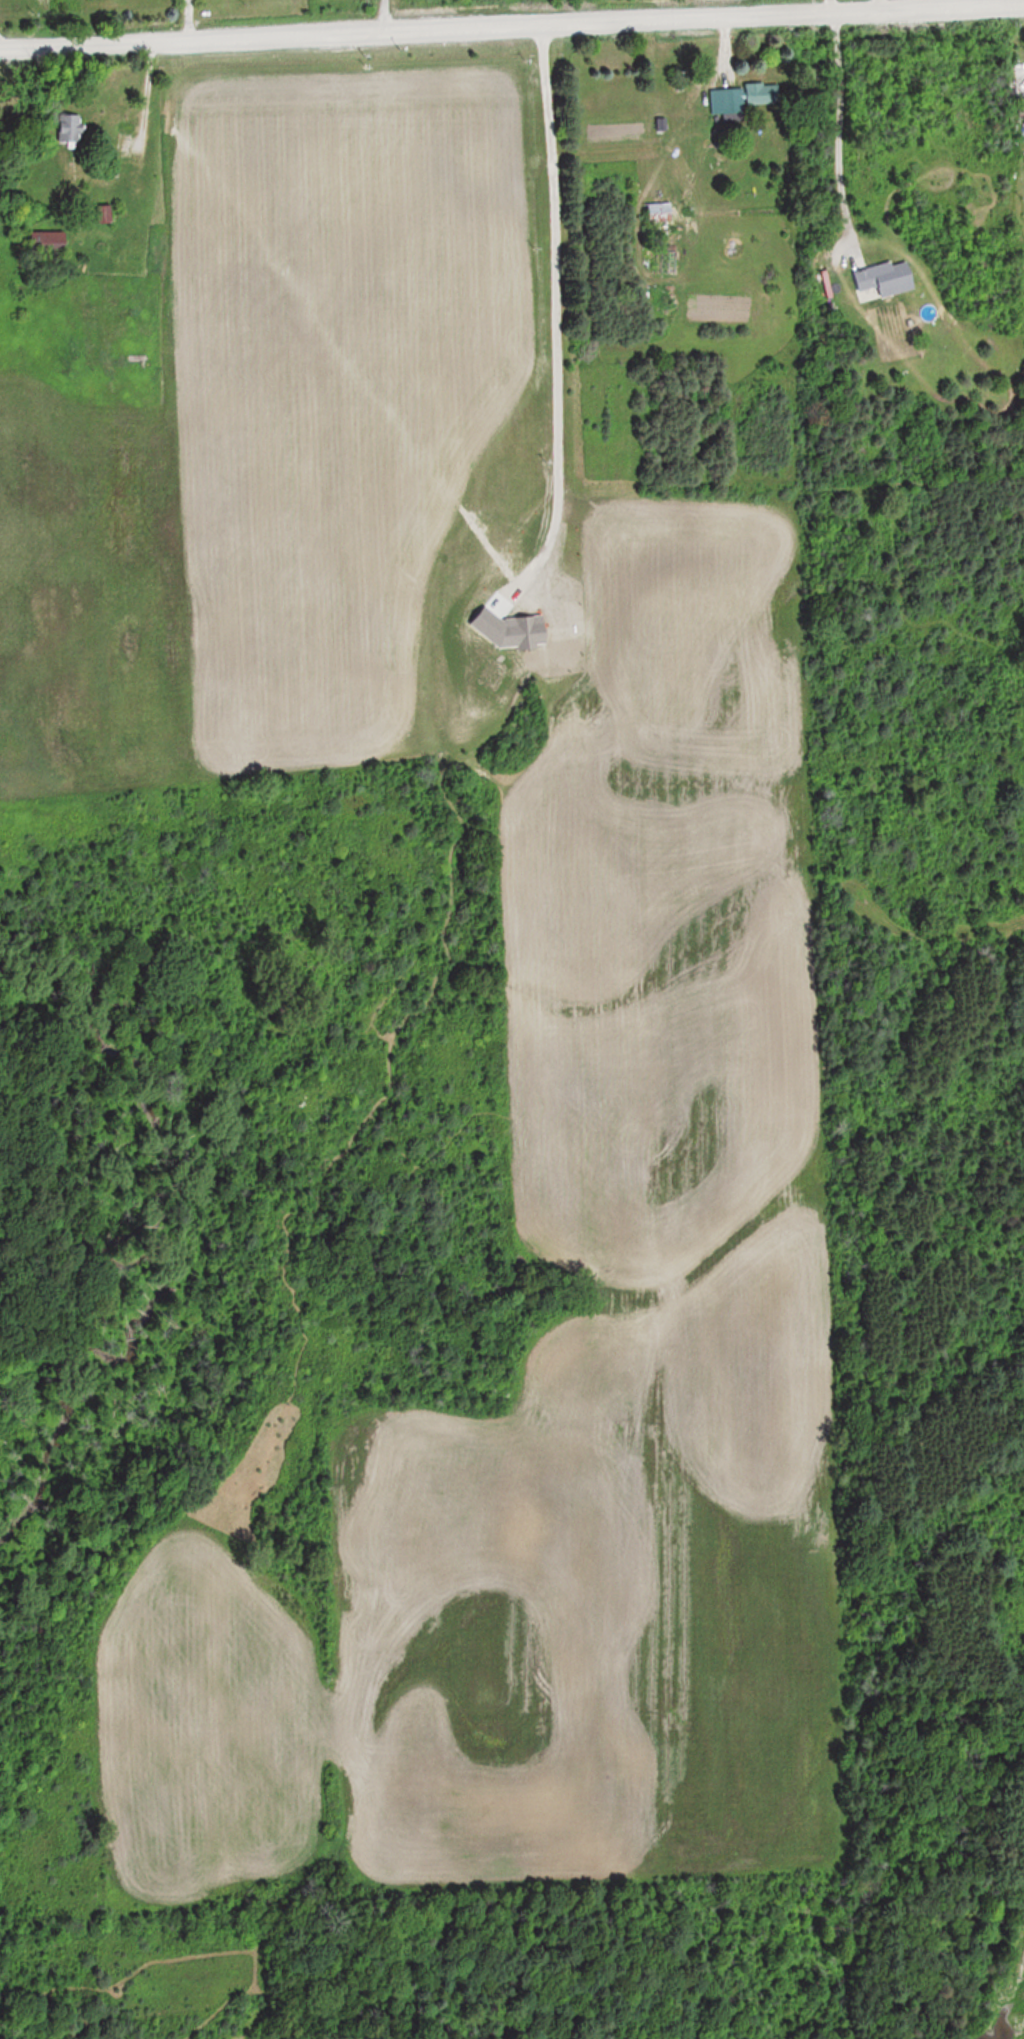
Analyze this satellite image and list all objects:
road: (187, 22)
road: (512, 30)
building: (1015, 78)
building: (741, 100)
building: (70, 129)
road: (834, 135)
building: (660, 211)
building: (48, 242)
building: (887, 278)

